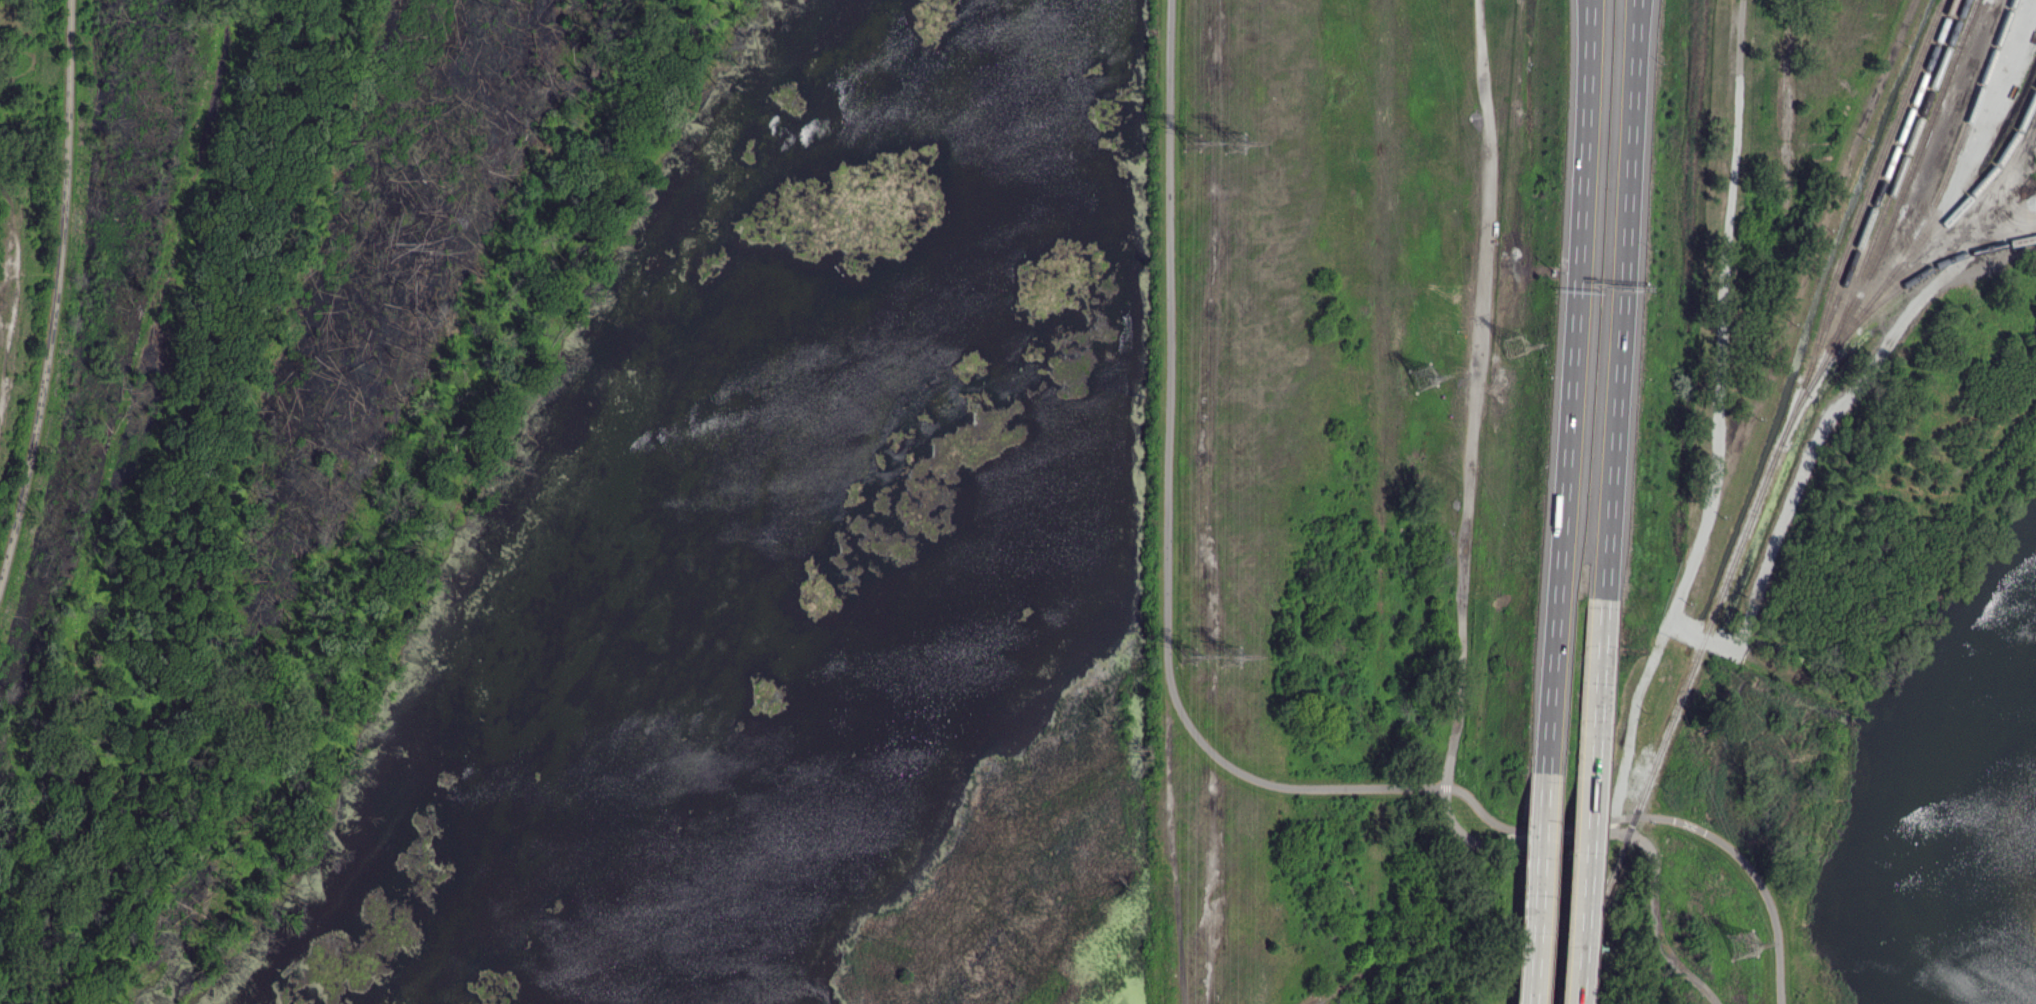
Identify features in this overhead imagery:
railway: (2007, 13)
power tower: (1236, 138)
power tower: (1194, 140)
railway: (1949, 160)
railway: (1909, 176)
railway: (1867, 191)
railway: (1879, 224)
railway: (1926, 244)
railway: (1922, 272)
road: (59, 297)
road: (1626, 298)
power tower: (1515, 347)
power tower: (1427, 377)
road: (1575, 386)
railway: (1758, 501)
road: (212, 503)
road: (1464, 605)
power tower: (1233, 653)
power tower: (1192, 657)
road: (1195, 735)
road: (1596, 800)
road: (1541, 888)
power tower: (1743, 946)

